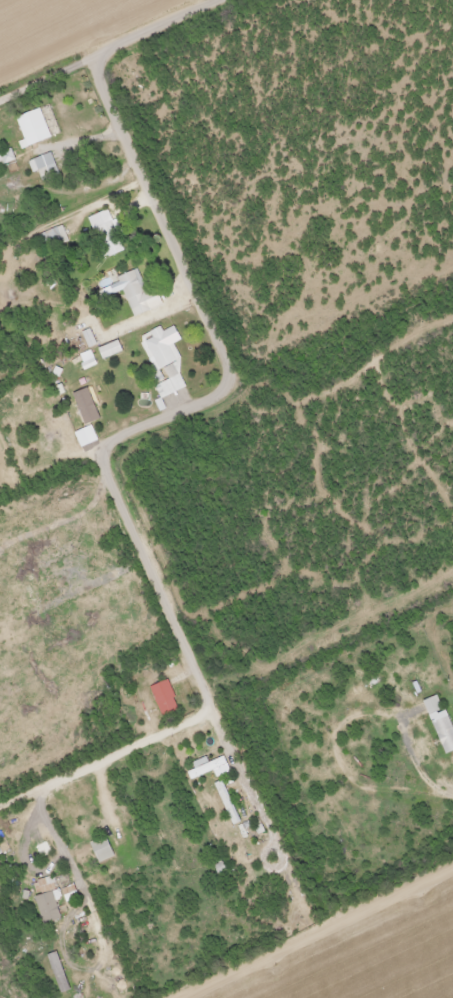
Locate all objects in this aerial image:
road: (117, 56)
building: (31, 129)
building: (5, 157)
building: (45, 167)
building: (105, 234)
building: (53, 238)
road: (196, 283)
building: (137, 292)
building: (164, 362)
road: (55, 453)
road: (207, 684)
building: (164, 698)
building: (430, 705)
building: (443, 734)
building: (208, 769)
road: (245, 776)
building: (225, 803)
building: (179, 842)
building: (100, 850)
road: (60, 881)
building: (45, 908)
road: (317, 934)

